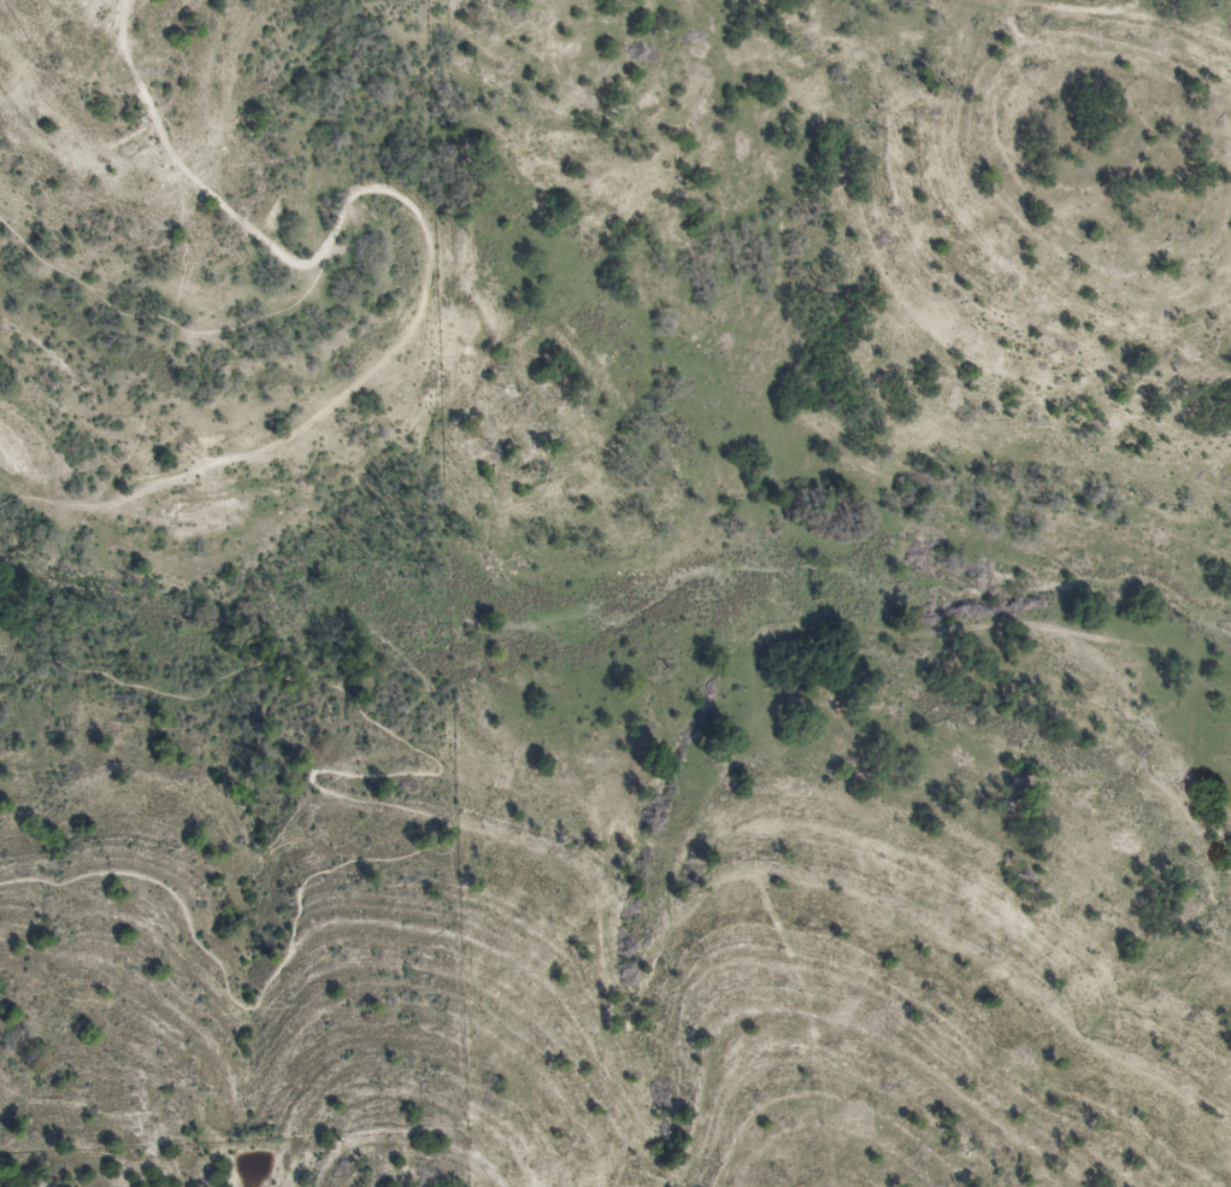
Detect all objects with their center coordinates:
road: (176, 160)
road: (157, 318)
road: (361, 380)
road: (24, 499)
road: (373, 803)

